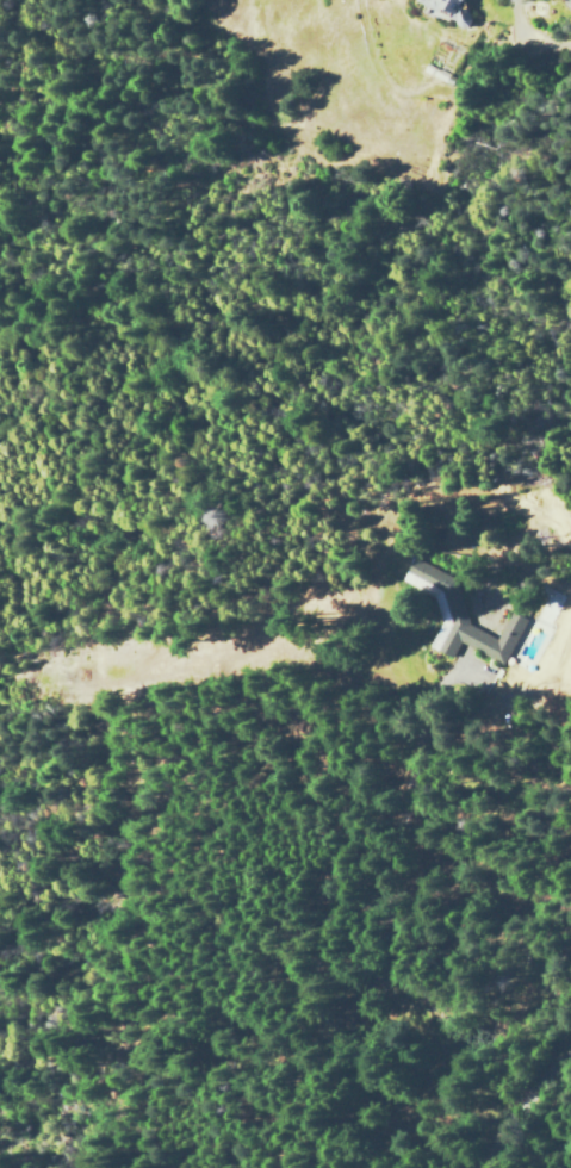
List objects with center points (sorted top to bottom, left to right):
building: (446, 7)
building: (458, 616)
road: (523, 1111)

